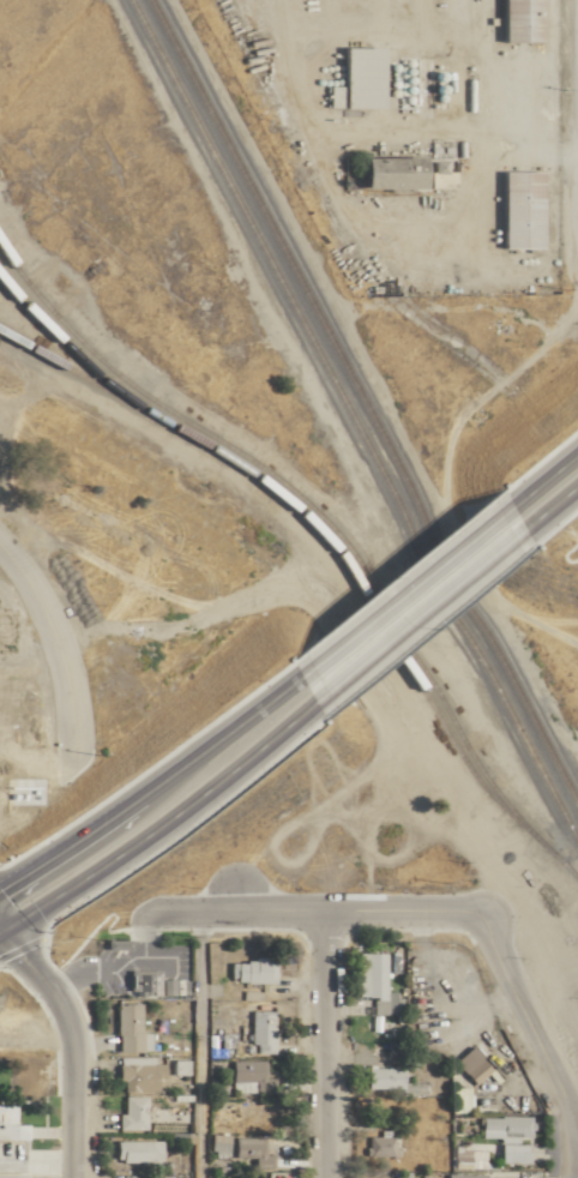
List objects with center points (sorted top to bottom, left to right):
building: (516, 20)
building: (353, 79)
building: (402, 172)
building: (517, 209)
railway: (79, 359)
railway: (363, 402)
railway: (354, 421)
road: (542, 482)
railway: (307, 504)
road: (550, 504)
railway: (339, 552)
road: (562, 554)
road: (403, 595)
road: (417, 614)
road: (56, 643)
road: (228, 731)
road: (36, 763)
road: (159, 821)
road: (77, 834)
road: (442, 910)
building: (248, 970)
building: (374, 984)
building: (151, 985)
building: (127, 1029)
building: (259, 1030)
building: (224, 1039)
road: (72, 1042)
road: (195, 1044)
road: (324, 1044)
building: (469, 1065)
building: (175, 1066)
building: (136, 1074)
building: (247, 1076)
building: (381, 1077)
building: (457, 1099)
building: (130, 1113)
road: (574, 1124)
building: (8, 1125)
building: (505, 1136)
building: (378, 1144)
building: (217, 1146)
building: (134, 1152)
building: (249, 1152)
building: (465, 1159)
building: (11, 1174)
building: (463, 1176)

